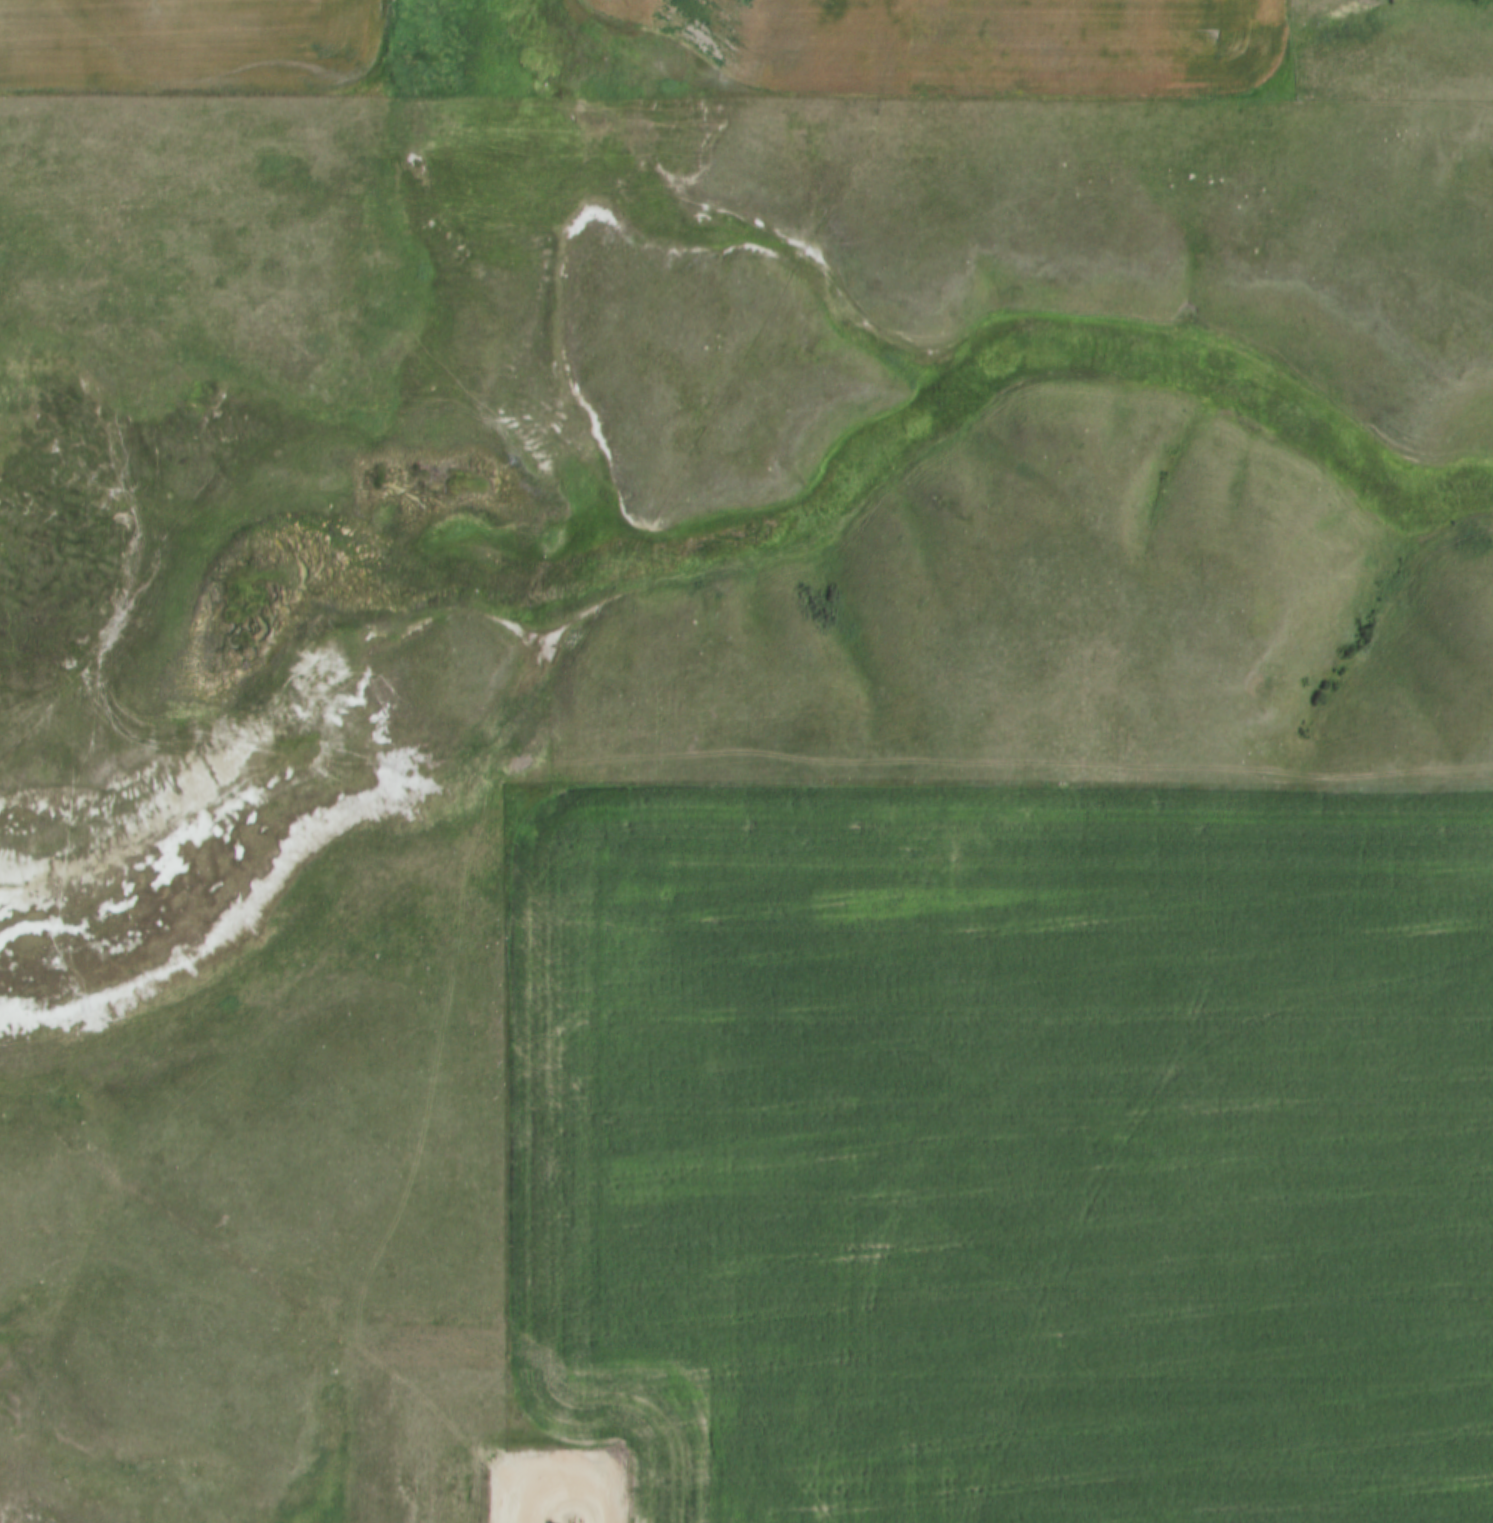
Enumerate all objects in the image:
road: (525, 1491)

